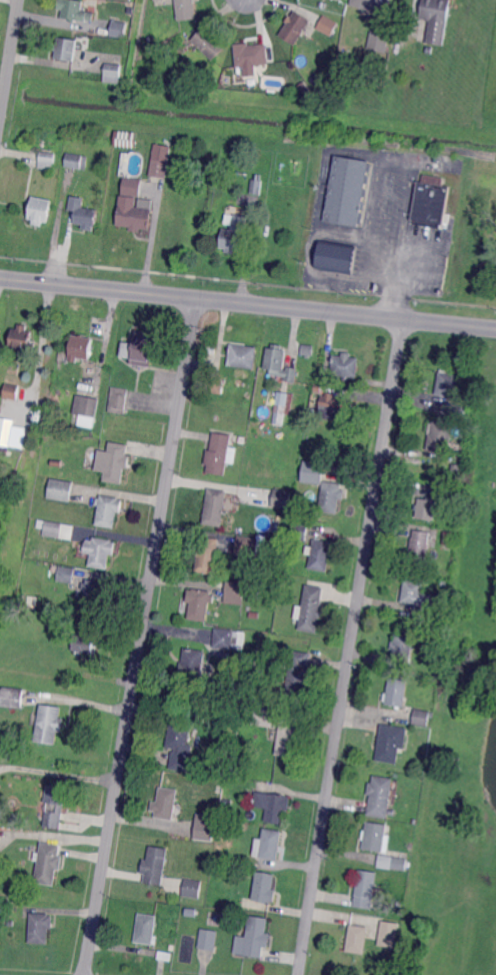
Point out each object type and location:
building: (369, 4)
building: (72, 9)
building: (186, 9)
building: (436, 19)
building: (328, 25)
building: (295, 28)
building: (118, 29)
building: (150, 39)
building: (379, 41)
building: (209, 43)
building: (65, 48)
building: (252, 54)
road: (9, 61)
building: (113, 70)
building: (211, 82)
building: (307, 91)
building: (124, 137)
road: (326, 151)
building: (47, 160)
building: (77, 160)
building: (160, 166)
building: (137, 172)
building: (131, 185)
building: (256, 187)
building: (350, 191)
building: (431, 202)
building: (40, 210)
building: (83, 214)
building: (135, 217)
building: (234, 235)
road: (151, 238)
building: (337, 257)
road: (393, 301)
road: (248, 305)
building: (23, 340)
building: (80, 347)
building: (141, 348)
building: (307, 349)
building: (243, 356)
building: (280, 363)
building: (346, 365)
building: (450, 383)
building: (217, 385)
building: (320, 389)
building: (11, 391)
building: (119, 400)
building: (444, 404)
building: (85, 406)
building: (282, 406)
building: (336, 408)
building: (459, 410)
building: (11, 432)
building: (441, 436)
building: (218, 454)
building: (114, 462)
building: (457, 467)
building: (57, 473)
building: (325, 488)
building: (59, 490)
building: (456, 491)
building: (281, 498)
building: (215, 508)
building: (426, 509)
building: (109, 510)
building: (58, 517)
building: (52, 529)
building: (300, 531)
building: (449, 539)
building: (420, 545)
building: (246, 546)
building: (447, 546)
building: (100, 551)
building: (207, 555)
building: (322, 555)
building: (54, 568)
building: (66, 574)
building: (52, 576)
building: (94, 593)
building: (234, 593)
building: (417, 594)
building: (33, 600)
building: (198, 604)
building: (310, 609)
road: (141, 637)
building: (228, 639)
building: (84, 643)
building: (402, 643)
road: (351, 647)
building: (192, 666)
building: (298, 675)
building: (397, 692)
building: (13, 698)
building: (264, 716)
building: (421, 717)
building: (49, 723)
building: (288, 741)
building: (391, 742)
building: (180, 745)
building: (425, 751)
road: (59, 770)
building: (380, 796)
building: (166, 803)
building: (273, 805)
building: (55, 806)
building: (205, 826)
building: (377, 836)
building: (269, 845)
building: (400, 862)
building: (49, 863)
building: (156, 865)
building: (265, 887)
building: (193, 888)
building: (365, 888)
building: (400, 904)
building: (40, 927)
building: (147, 929)
building: (390, 935)
building: (257, 936)
building: (358, 938)
building: (208, 939)
park: (462, 950)
building: (165, 956)

